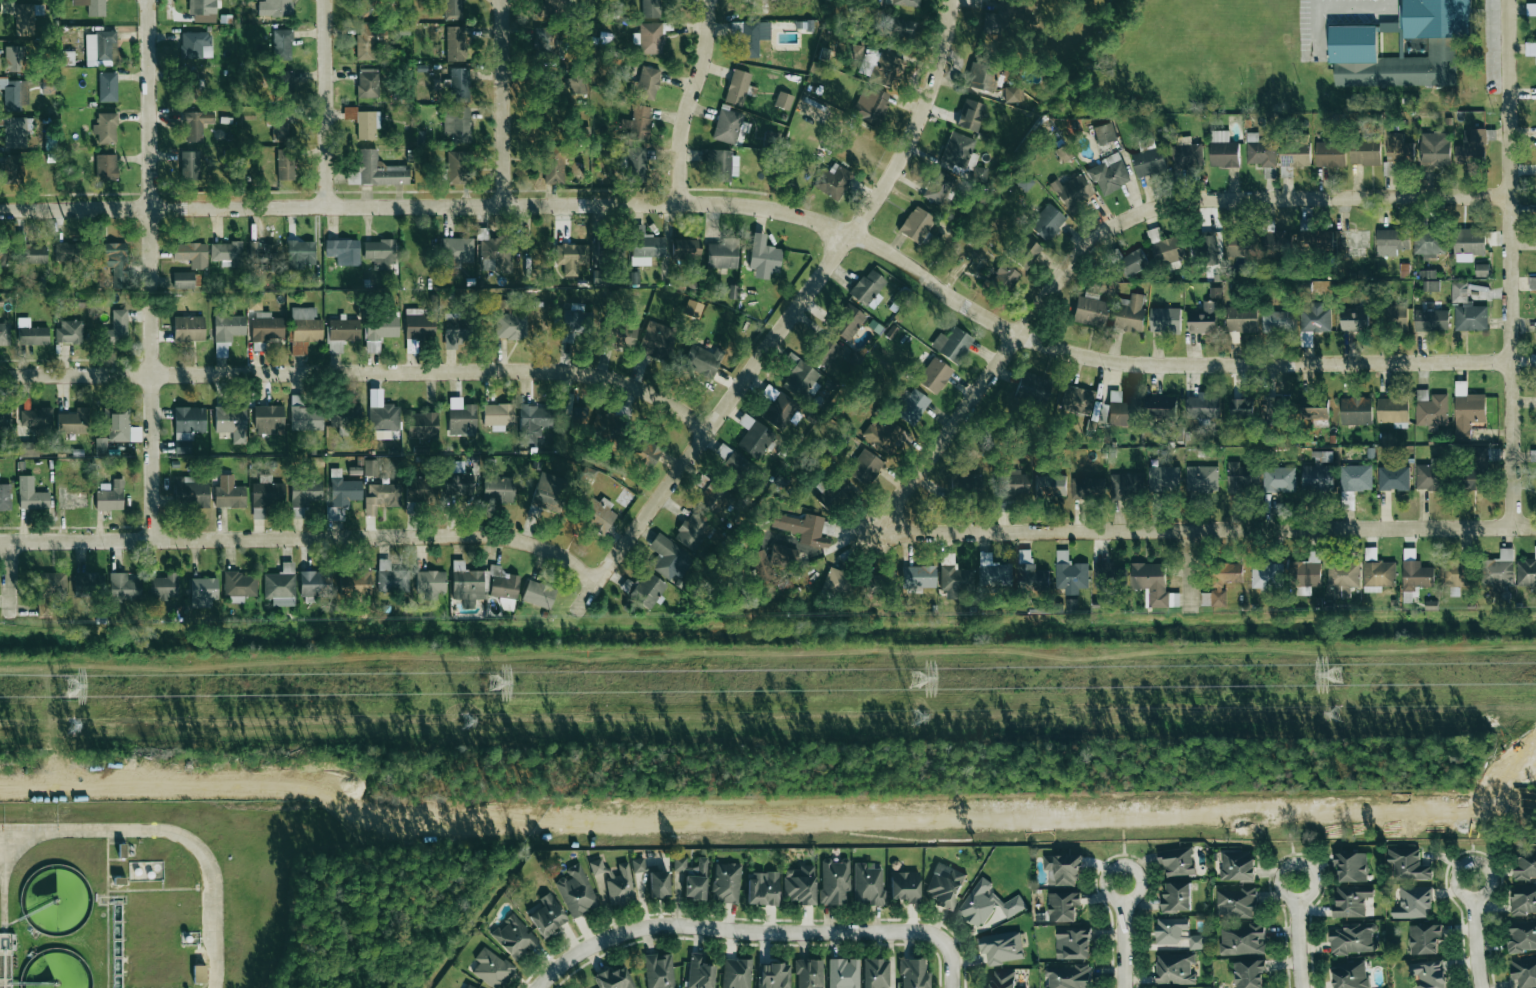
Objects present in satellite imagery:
building: (901, 2)
building: (644, 3)
building: (95, 7)
building: (272, 8)
road: (1354, 8)
building: (451, 9)
building: (1014, 11)
building: (24, 18)
building: (987, 25)
building: (1387, 27)
building: (900, 29)
building: (750, 37)
building: (647, 38)
building: (366, 41)
building: (538, 41)
building: (279, 43)
building: (452, 43)
building: (196, 45)
building: (100, 48)
building: (1348, 48)
building: (15, 59)
building: (978, 77)
building: (280, 80)
building: (576, 80)
building: (453, 81)
building: (645, 81)
building: (365, 82)
building: (735, 86)
building: (109, 87)
building: (1012, 93)
building: (15, 94)
building: (781, 99)
road: (690, 101)
road: (327, 103)
road: (502, 103)
building: (865, 104)
building: (347, 112)
building: (968, 114)
building: (192, 123)
building: (454, 123)
building: (635, 123)
building: (364, 124)
building: (725, 125)
building: (102, 127)
building: (15, 132)
building: (1103, 132)
building: (1471, 143)
building: (1396, 148)
building: (1431, 148)
building: (1220, 149)
building: (1258, 151)
building: (1292, 151)
building: (1361, 151)
building: (1185, 153)
building: (1327, 153)
building: (961, 155)
building: (1146, 161)
building: (630, 163)
building: (10, 164)
building: (187, 164)
building: (551, 164)
building: (721, 164)
building: (103, 165)
building: (377, 169)
building: (1284, 171)
building: (1107, 173)
building: (830, 180)
building: (931, 186)
building: (1069, 192)
road: (775, 211)
building: (1045, 221)
building: (913, 224)
road: (1119, 228)
building: (1319, 240)
building: (1389, 241)
building: (1427, 242)
building: (1466, 242)
building: (1232, 244)
building: (643, 246)
building: (1206, 246)
building: (1160, 247)
building: (682, 248)
building: (338, 249)
building: (224, 250)
building: (258, 252)
building: (378, 252)
building: (1022, 252)
building: (28, 253)
building: (188, 253)
building: (297, 253)
building: (455, 253)
building: (760, 253)
building: (718, 254)
building: (495, 255)
building: (569, 256)
building: (110, 258)
building: (1131, 262)
road: (1512, 263)
road: (153, 268)
building: (180, 279)
building: (1000, 280)
building: (1427, 280)
building: (1530, 283)
building: (865, 286)
building: (1458, 291)
building: (0, 300)
building: (252, 303)
building: (691, 308)
building: (1086, 310)
building: (1127, 312)
building: (1313, 317)
building: (1238, 318)
building: (1469, 318)
building: (1163, 319)
building: (1351, 319)
building: (1429, 319)
building: (1275, 320)
building: (845, 321)
building: (508, 323)
building: (416, 324)
building: (449, 324)
building: (225, 326)
building: (264, 326)
building: (113, 327)
building: (186, 328)
building: (302, 328)
building: (342, 329)
road: (782, 329)
building: (377, 330)
building: (67, 331)
building: (28, 332)
building: (3, 334)
building: (618, 334)
building: (1232, 337)
building: (652, 339)
building: (950, 343)
building: (823, 352)
building: (696, 359)
building: (1531, 361)
building: (1535, 366)
road: (437, 372)
road: (77, 375)
building: (932, 375)
building: (799, 381)
building: (1029, 384)
building: (1079, 401)
building: (908, 404)
building: (1160, 406)
building: (1237, 406)
building: (1200, 408)
building: (1114, 409)
building: (1429, 409)
building: (1353, 410)
building: (1464, 410)
building: (1391, 412)
building: (495, 415)
building: (575, 415)
building: (4, 417)
building: (35, 417)
building: (458, 417)
building: (227, 418)
building: (266, 418)
building: (381, 420)
building: (64, 422)
building: (526, 423)
building: (418, 424)
building: (184, 427)
building: (118, 428)
building: (878, 435)
building: (751, 436)
building: (639, 452)
building: (1531, 455)
building: (729, 463)
building: (862, 466)
building: (1162, 474)
building: (1237, 475)
building: (1425, 475)
building: (1315, 476)
building: (1200, 477)
building: (1277, 477)
building: (1353, 477)
building: (1391, 478)
building: (1469, 479)
building: (963, 480)
building: (1009, 481)
building: (495, 482)
building: (1087, 482)
building: (193, 491)
building: (228, 492)
building: (308, 493)
building: (110, 496)
building: (5, 498)
building: (33, 499)
building: (335, 510)
building: (595, 512)
building: (803, 528)
building: (692, 531)
road: (1205, 532)
road: (385, 534)
road: (80, 538)
building: (784, 555)
building: (669, 558)
building: (761, 565)
building: (1498, 570)
building: (1306, 571)
building: (1031, 572)
building: (1526, 572)
building: (1070, 573)
road: (1193, 573)
building: (1414, 574)
building: (1455, 574)
building: (995, 575)
building: (1108, 575)
building: (1378, 575)
building: (918, 576)
building: (1267, 576)
building: (391, 577)
building: (837, 580)
building: (955, 580)
building: (1343, 580)
building: (355, 581)
building: (1225, 581)
building: (1535, 582)
building: (430, 583)
building: (467, 583)
building: (89, 584)
building: (315, 584)
building: (503, 584)
building: (238, 585)
building: (280, 585)
building: (872, 585)
road: (13, 586)
building: (123, 586)
building: (164, 587)
building: (49, 590)
building: (648, 590)
building: (538, 594)
power tower: (1338, 676)
power tower: (915, 678)
power tower: (493, 686)
power tower: (75, 689)
power tower: (1340, 713)
power tower: (915, 715)
power tower: (469, 718)
power tower: (72, 724)
road: (1018, 831)
road: (91, 834)
road: (1119, 837)
road: (1287, 842)
building: (1177, 861)
building: (638, 864)
building: (1408, 864)
building: (1237, 866)
building: (1351, 866)
building: (1524, 866)
building: (1063, 869)
building: (1535, 872)
building: (693, 877)
wastewater plant: (197, 878)
building: (616, 881)
building: (834, 881)
building: (726, 882)
building: (659, 883)
building: (868, 883)
building: (800, 884)
building: (945, 885)
building: (905, 886)
building: (762, 887)
building: (1535, 890)
building: (577, 891)
building: (1176, 896)
building: (1523, 900)
road: (219, 902)
building: (1236, 903)
building: (1413, 903)
building: (986, 904)
building: (1063, 906)
road: (9, 912)
building: (548, 915)
building: (1535, 925)
road: (757, 931)
road: (1475, 933)
road: (1123, 934)
building: (1178, 934)
road: (1298, 935)
building: (514, 937)
building: (1521, 937)
building: (1424, 938)
building: (1352, 939)
building: (1242, 940)
building: (1073, 943)
building: (1000, 948)
building: (1535, 960)
building: (491, 968)
building: (1175, 969)
building: (659, 970)
building: (699, 972)
building: (1524, 972)
building: (199, 973)
building: (736, 973)
building: (809, 973)
building: (843, 973)
building: (876, 973)
building: (914, 973)
building: (1249, 973)
building: (1429, 974)
building: (773, 975)
building: (1350, 975)
building: (1067, 977)
building: (614, 978)
building: (1004, 980)
building: (468, 986)

